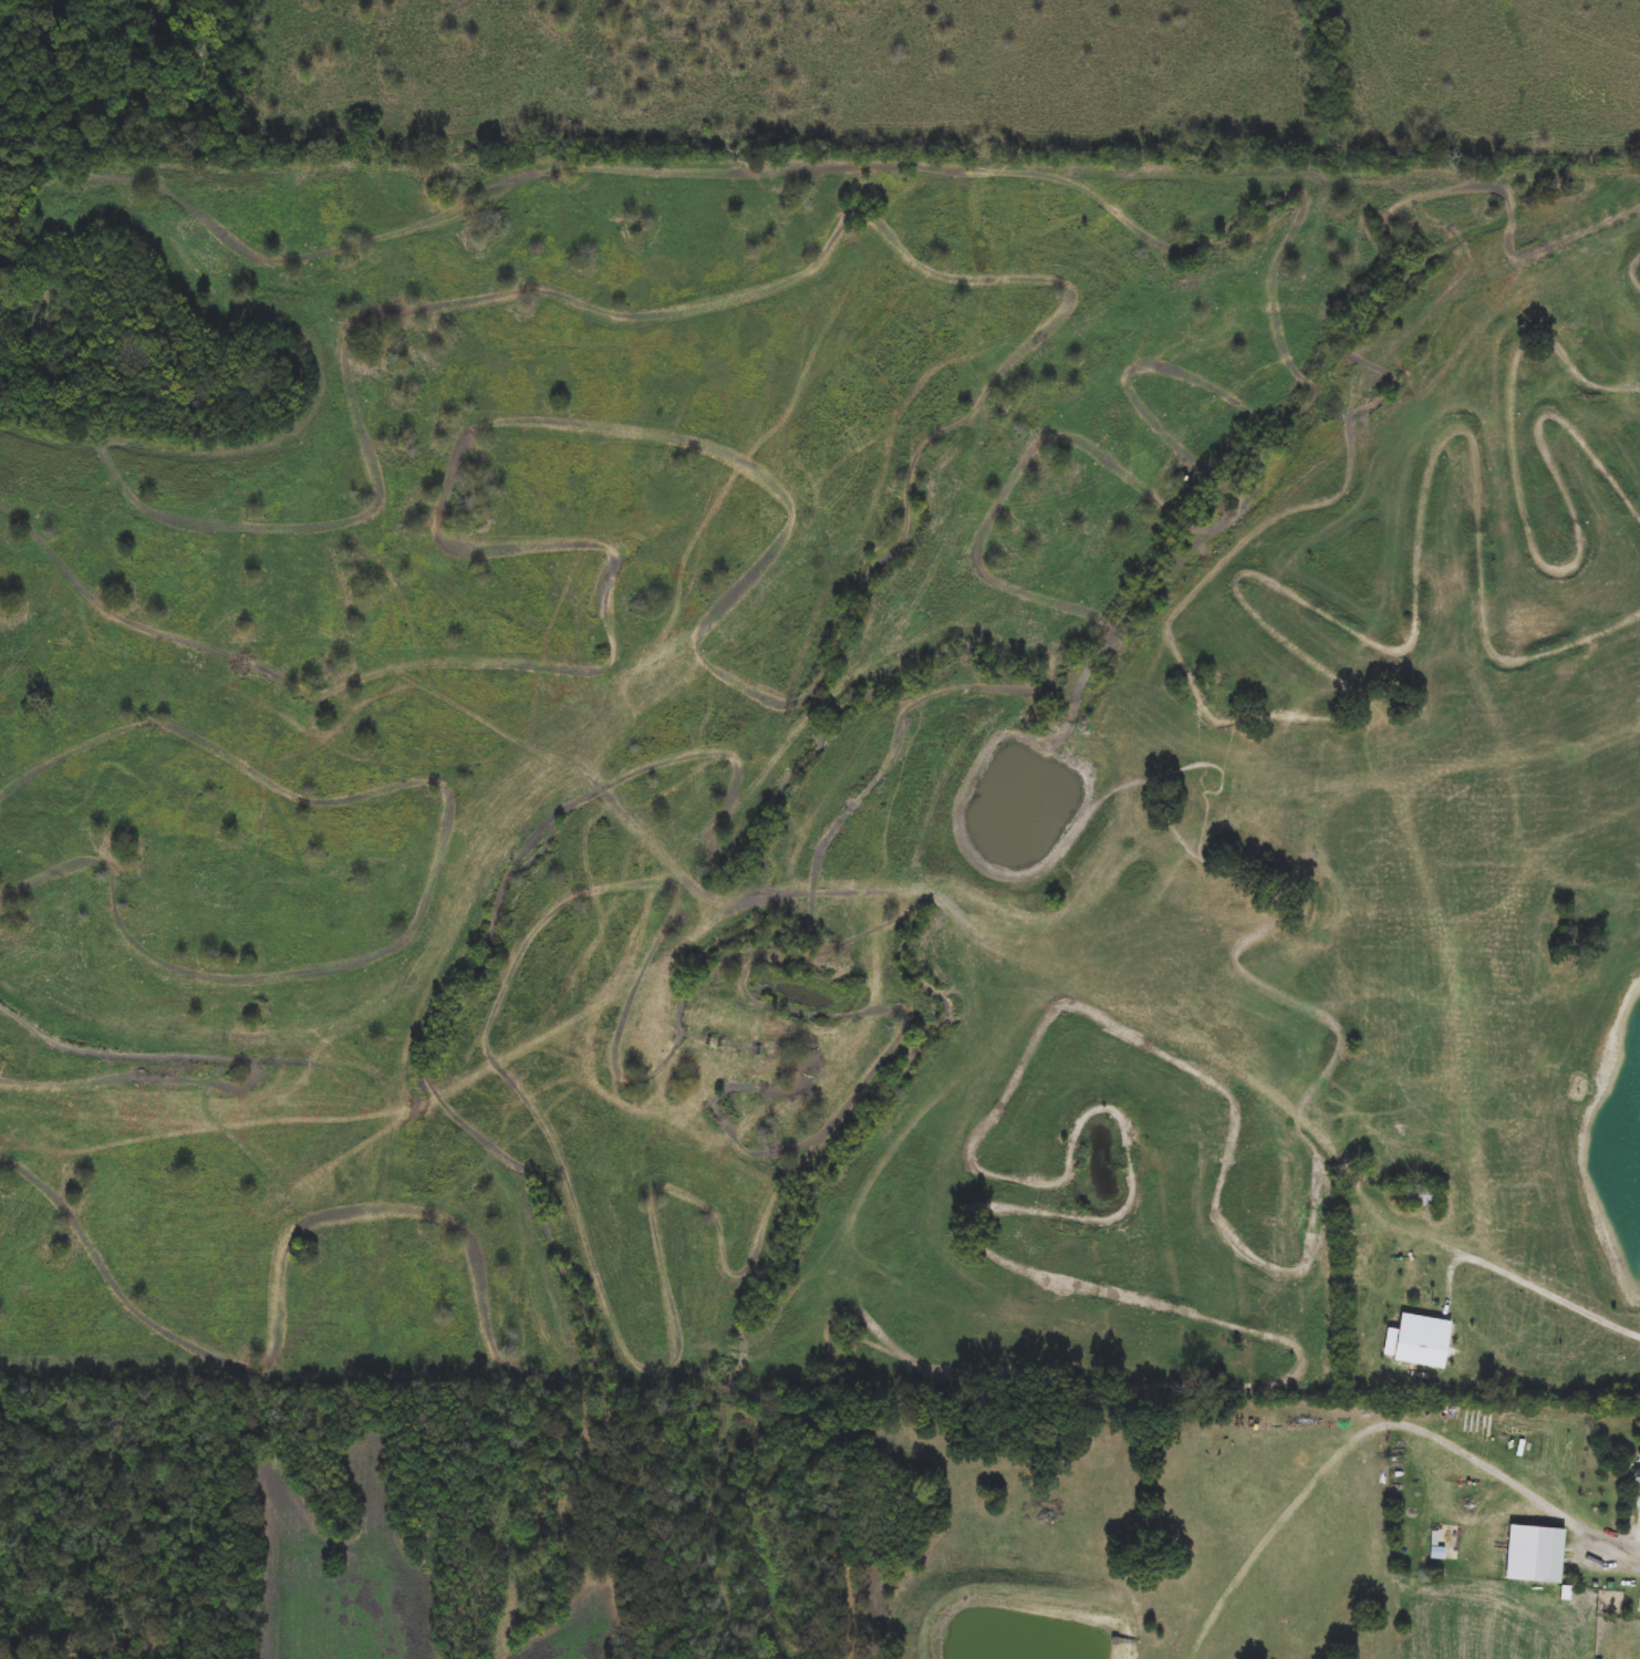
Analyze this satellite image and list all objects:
building: (1420, 1195)
road: (1527, 1282)
building: (1638, 1476)
road: (1523, 1485)
building: (1550, 1556)

